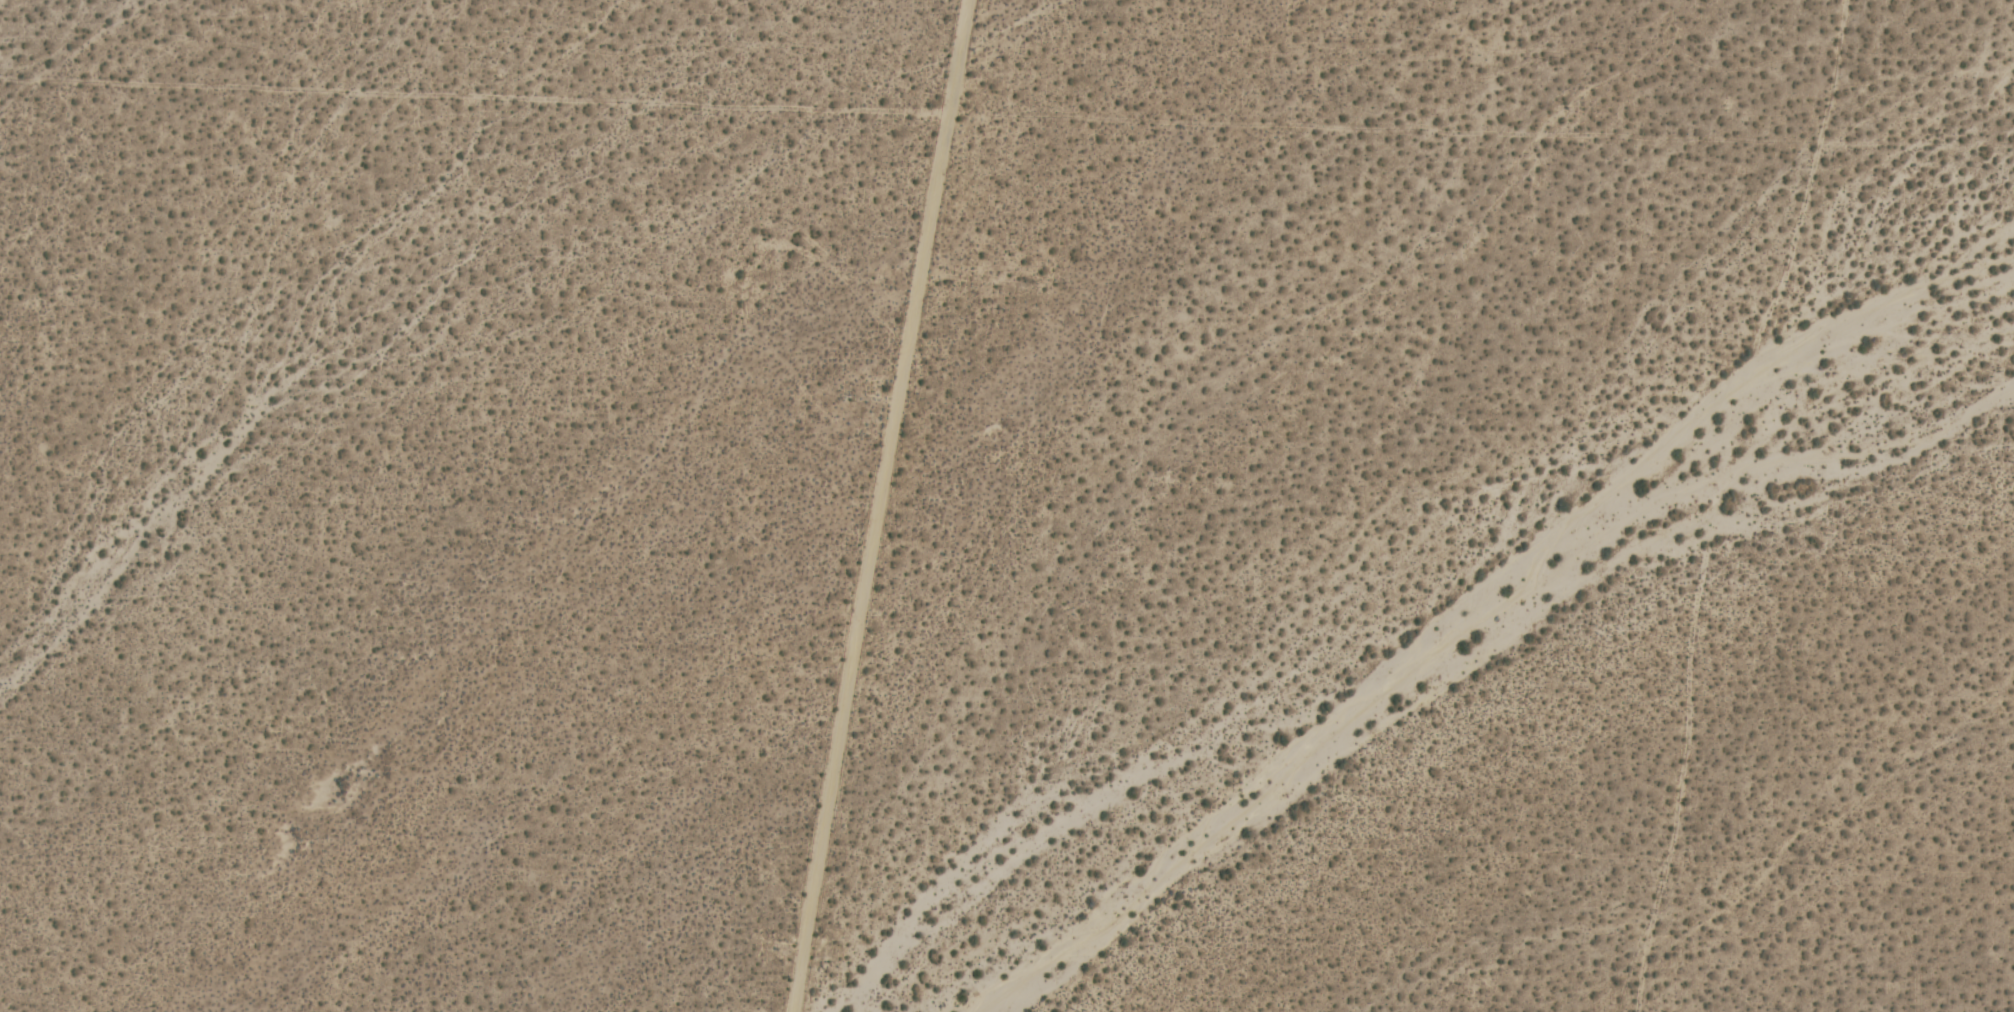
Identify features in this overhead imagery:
road: (876, 505)

